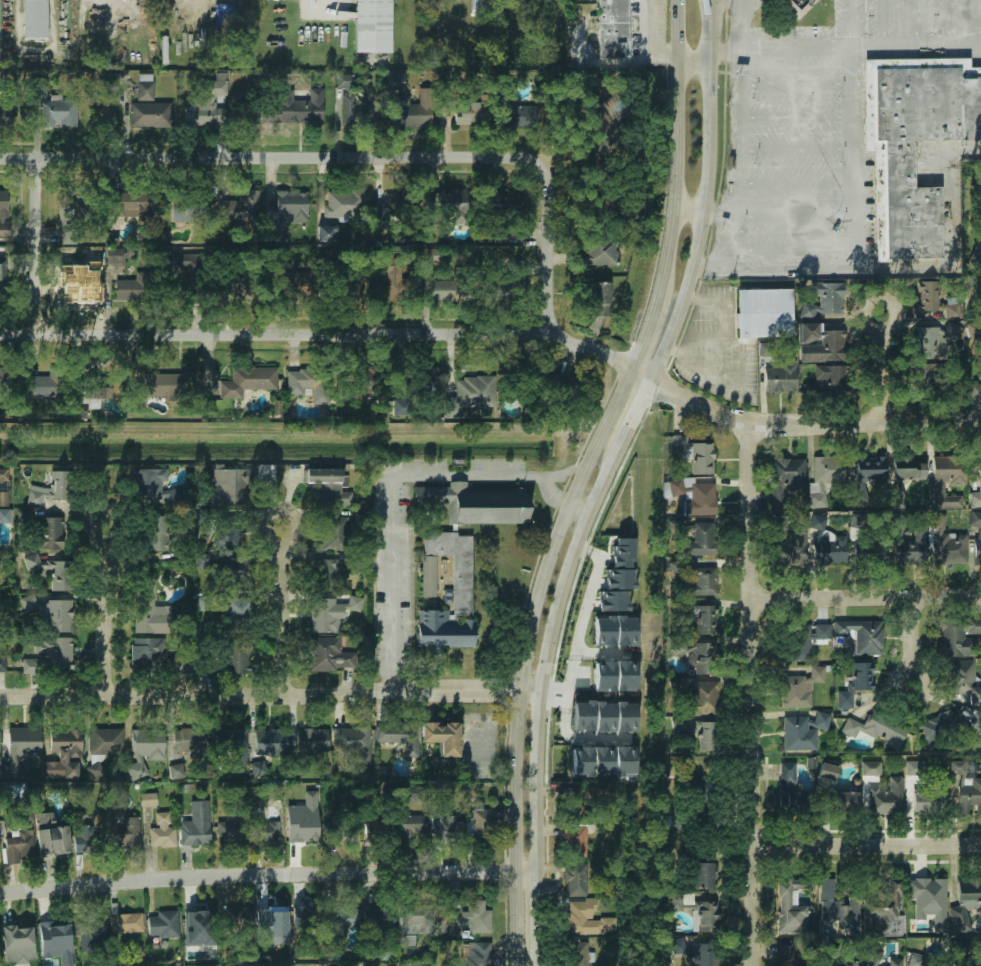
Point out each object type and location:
road: (333, 0)
building: (796, 6)
building: (33, 20)
road: (946, 23)
road: (979, 23)
road: (848, 24)
road: (882, 24)
road: (915, 24)
building: (372, 26)
road: (648, 28)
building: (612, 30)
road: (843, 49)
road: (663, 57)
road: (693, 58)
building: (345, 80)
building: (395, 81)
road: (796, 84)
building: (143, 87)
building: (204, 104)
building: (598, 107)
building: (293, 109)
building: (6, 111)
building: (357, 111)
building: (415, 111)
building: (58, 113)
building: (150, 114)
building: (470, 114)
building: (521, 115)
road: (796, 117)
road: (741, 135)
road: (796, 150)
road: (268, 158)
road: (851, 158)
building: (901, 163)
road: (795, 183)
building: (602, 190)
building: (345, 203)
building: (131, 204)
building: (449, 204)
building: (501, 204)
building: (882, 204)
building: (239, 207)
building: (289, 207)
building: (389, 207)
building: (67, 208)
building: (188, 209)
road: (688, 209)
building: (4, 213)
road: (718, 214)
road: (794, 217)
building: (326, 232)
road: (36, 247)
road: (546, 249)
road: (792, 249)
building: (602, 252)
building: (327, 255)
building: (184, 262)
road: (896, 269)
building: (4, 273)
building: (516, 274)
building: (298, 283)
building: (393, 284)
building: (238, 285)
building: (127, 289)
building: (445, 290)
building: (80, 291)
building: (927, 297)
building: (600, 298)
building: (823, 299)
building: (764, 313)
building: (810, 332)
road: (307, 334)
building: (926, 343)
building: (826, 348)
road: (882, 370)
building: (781, 377)
building: (923, 378)
building: (1, 379)
building: (829, 380)
building: (248, 382)
building: (566, 383)
building: (168, 384)
building: (309, 384)
building: (45, 385)
building: (366, 385)
building: (975, 392)
building: (470, 395)
building: (276, 407)
building: (401, 407)
building: (79, 411)
road: (787, 425)
building: (696, 455)
building: (908, 468)
building: (947, 469)
building: (828, 470)
building: (869, 471)
building: (4, 474)
road: (578, 478)
road: (602, 478)
building: (784, 480)
building: (979, 482)
building: (148, 484)
building: (327, 486)
building: (228, 487)
road: (387, 487)
building: (49, 488)
road: (549, 495)
building: (695, 497)
building: (478, 503)
road: (576, 509)
building: (5, 515)
building: (975, 519)
building: (856, 520)
building: (818, 522)
building: (156, 529)
building: (50, 533)
building: (334, 534)
building: (232, 536)
building: (697, 538)
building: (953, 548)
building: (790, 549)
building: (977, 549)
building: (829, 551)
building: (623, 552)
building: (907, 552)
building: (869, 554)
building: (203, 560)
building: (453, 568)
building: (50, 571)
building: (236, 573)
building: (324, 575)
building: (427, 577)
building: (618, 578)
building: (696, 580)
road: (591, 593)
building: (145, 595)
building: (0, 599)
road: (865, 599)
building: (613, 600)
building: (29, 603)
building: (676, 604)
road: (104, 610)
building: (236, 612)
road: (283, 612)
building: (323, 615)
building: (60, 616)
building: (705, 620)
building: (625, 629)
building: (443, 630)
building: (604, 630)
building: (860, 635)
building: (957, 637)
building: (801, 640)
road: (911, 644)
building: (679, 646)
building: (56, 652)
building: (146, 654)
building: (328, 655)
building: (235, 656)
building: (701, 659)
building: (35, 664)
building: (176, 665)
building: (0, 666)
building: (625, 675)
building: (605, 676)
building: (963, 681)
building: (854, 683)
building: (799, 688)
road: (568, 690)
road: (750, 695)
road: (268, 696)
building: (702, 698)
road: (565, 701)
building: (584, 715)
building: (605, 715)
building: (626, 716)
building: (948, 729)
building: (876, 730)
building: (802, 731)
building: (398, 735)
building: (442, 736)
building: (708, 737)
road: (585, 738)
building: (187, 740)
building: (228, 740)
building: (312, 740)
building: (104, 741)
building: (23, 742)
building: (147, 742)
building: (269, 742)
building: (352, 742)
building: (65, 744)
building: (0, 745)
building: (603, 760)
building: (624, 760)
building: (582, 761)
building: (258, 768)
building: (869, 768)
building: (914, 768)
building: (94, 769)
building: (176, 770)
building: (827, 772)
building: (700, 789)
building: (16, 790)
building: (791, 793)
building: (577, 795)
building: (969, 796)
building: (930, 797)
building: (886, 799)
building: (148, 800)
building: (846, 804)
building: (481, 825)
building: (410, 826)
building: (376, 828)
building: (304, 829)
building: (448, 829)
building: (232, 830)
building: (342, 831)
building: (161, 832)
building: (126, 833)
building: (265, 833)
building: (49, 835)
building: (195, 836)
building: (87, 838)
building: (575, 841)
building: (17, 847)
road: (867, 848)
road: (509, 871)
road: (242, 875)
building: (703, 876)
building: (576, 885)
building: (930, 900)
building: (674, 901)
building: (965, 905)
building: (836, 908)
building: (788, 911)
building: (883, 911)
building: (306, 913)
building: (414, 915)
building: (467, 915)
building: (271, 916)
building: (705, 916)
building: (235, 918)
building: (378, 918)
building: (197, 919)
building: (339, 919)
building: (588, 919)
building: (126, 924)
building: (163, 925)
building: (89, 926)
building: (16, 934)
building: (55, 937)
building: (692, 952)
building: (787, 953)
building: (475, 954)
building: (576, 956)
building: (880, 960)
building: (916, 960)
building: (850, 964)

